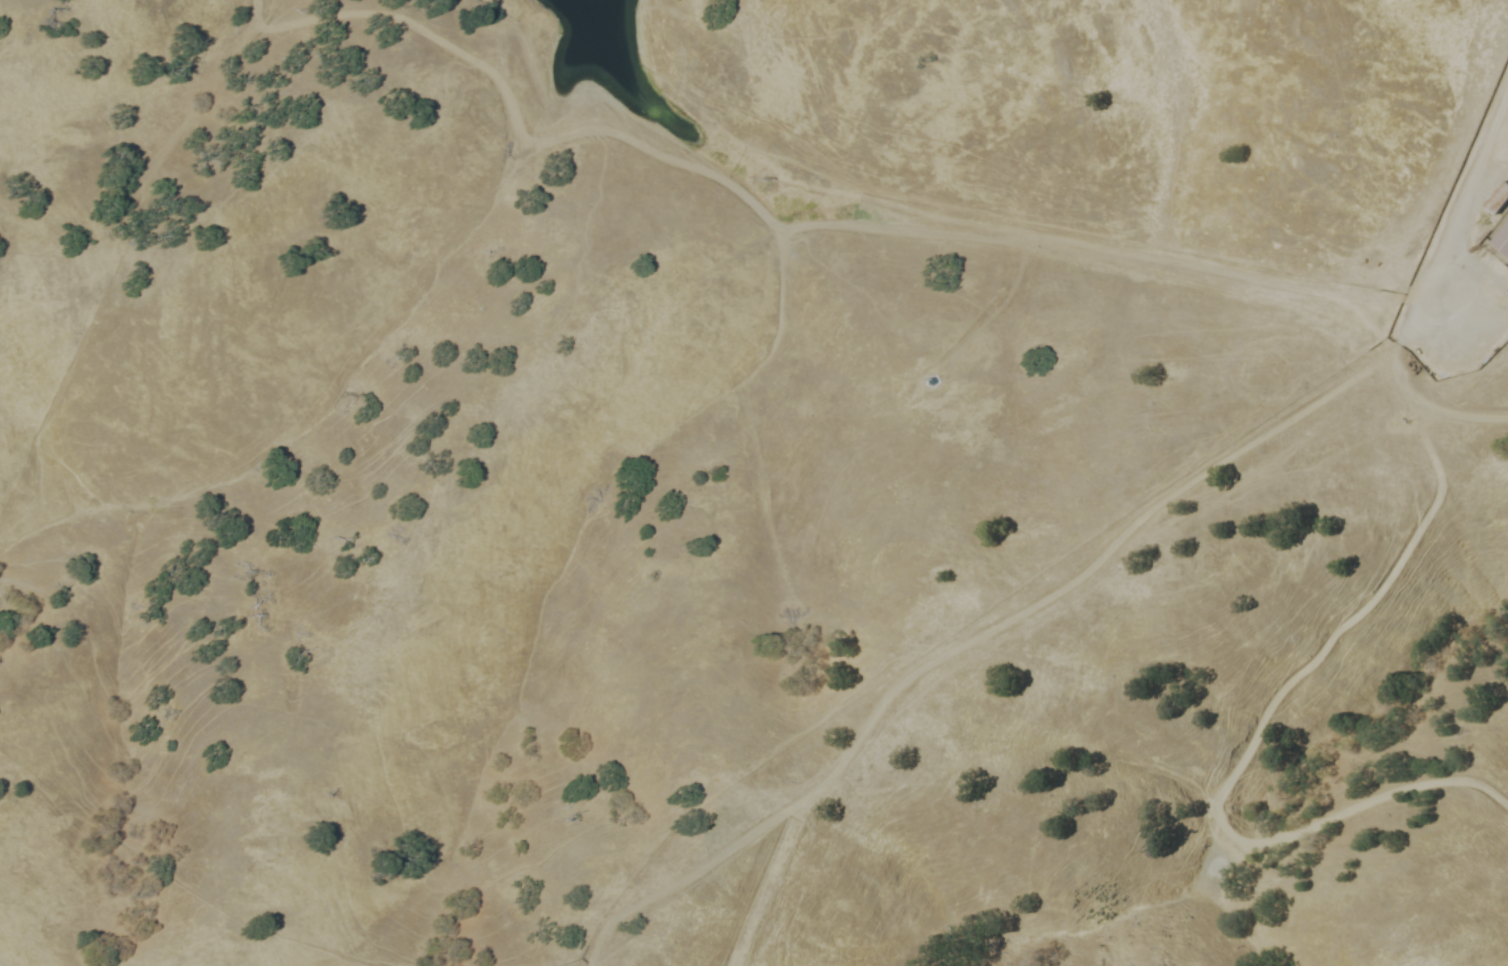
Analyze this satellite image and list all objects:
road: (1453, 212)
road: (785, 227)
building: (1502, 240)
road: (1429, 402)
road: (1148, 508)
road: (1257, 731)
road: (751, 834)

